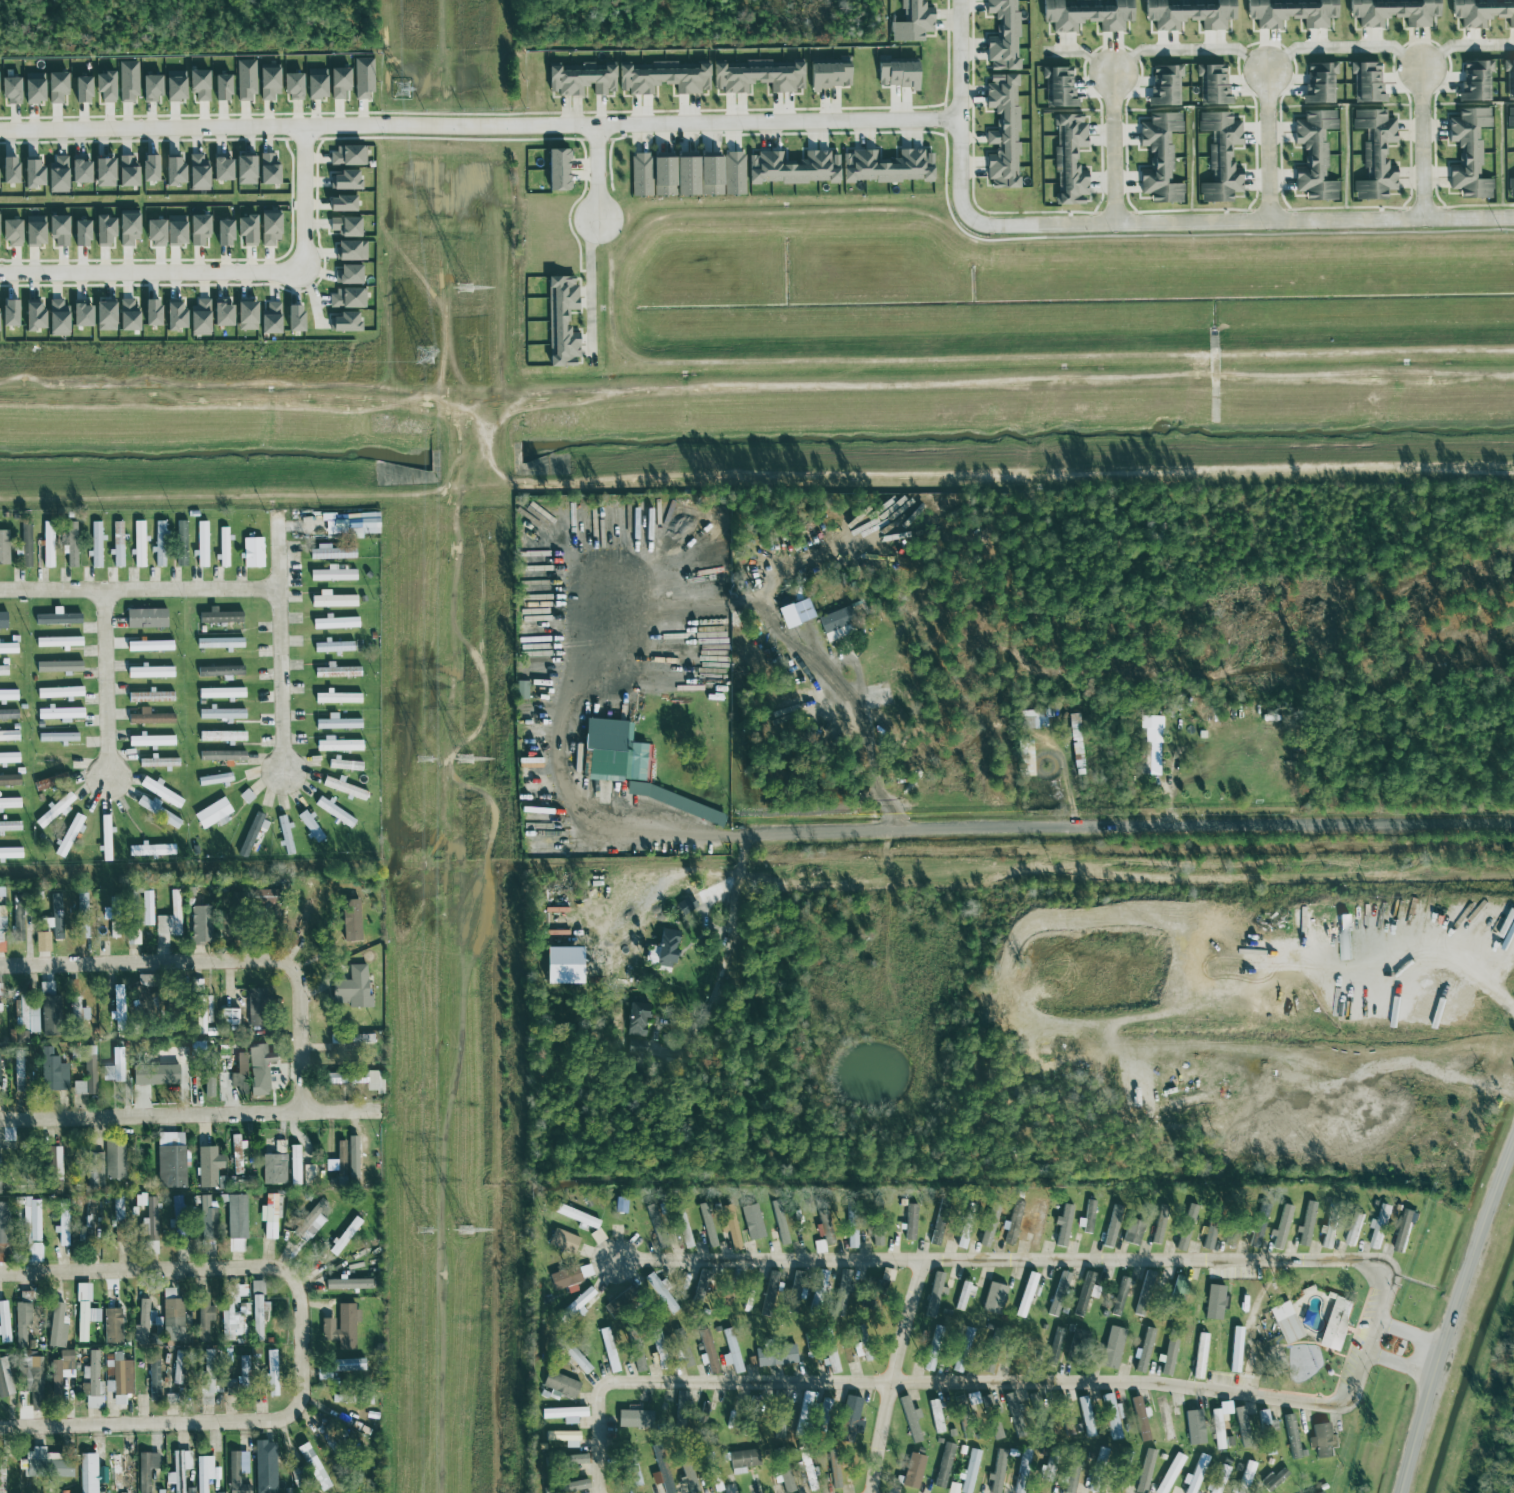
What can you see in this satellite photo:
building: (1393, 12)
building: (1481, 12)
building: (1290, 13)
building: (1188, 14)
building: (1086, 15)
building: (911, 22)
building: (1002, 35)
road: (1463, 44)
road: (1343, 47)
road: (1189, 49)
road: (1083, 52)
building: (896, 72)
building: (830, 75)
building: (757, 77)
building: (362, 78)
building: (663, 78)
building: (244, 79)
building: (1509, 79)
building: (128, 80)
building: (579, 80)
building: (268, 81)
building: (1367, 82)
building: (1475, 82)
building: (338, 83)
building: (1319, 83)
building: (199, 84)
building: (315, 84)
building: (1213, 84)
building: (103, 86)
building: (174, 86)
building: (291, 86)
building: (1164, 86)
building: (56, 87)
building: (220, 87)
building: (1058, 87)
building: (32, 88)
building: (150, 88)
building: (9, 90)
building: (80, 90)
road: (958, 112)
building: (1510, 118)
road: (478, 121)
building: (1003, 133)
road: (1423, 143)
road: (1269, 145)
road: (1112, 147)
building: (1469, 154)
building: (1374, 155)
building: (347, 156)
building: (1314, 156)
building: (1220, 157)
building: (1159, 158)
building: (1069, 160)
building: (886, 167)
building: (148, 169)
building: (792, 169)
building: (220, 170)
building: (244, 170)
building: (266, 170)
building: (557, 170)
building: (7, 171)
road: (600, 171)
building: (78, 172)
building: (126, 172)
building: (103, 173)
building: (172, 173)
building: (197, 173)
building: (30, 174)
building: (733, 174)
building: (56, 175)
building: (640, 175)
building: (674, 177)
building: (709, 177)
building: (345, 181)
building: (1510, 188)
road: (305, 193)
building: (340, 204)
road: (1243, 218)
building: (344, 227)
building: (127, 229)
building: (197, 229)
building: (269, 229)
building: (102, 230)
building: (174, 230)
building: (33, 231)
building: (58, 231)
building: (246, 231)
building: (222, 232)
building: (9, 233)
building: (79, 233)
building: (153, 233)
building: (350, 251)
road: (1472, 261)
road: (148, 269)
building: (348, 275)
road: (590, 287)
power tower: (469, 289)
building: (346, 299)
building: (150, 313)
building: (221, 313)
building: (7, 314)
building: (80, 315)
building: (126, 315)
building: (245, 316)
building: (103, 317)
building: (173, 317)
building: (32, 318)
building: (199, 318)
building: (57, 319)
building: (269, 319)
building: (293, 319)
building: (561, 321)
building: (344, 323)
power tower: (425, 354)
river: (757, 434)
building: (349, 524)
building: (159, 543)
building: (180, 543)
building: (201, 543)
building: (47, 544)
building: (71, 544)
building: (138, 544)
building: (24, 545)
building: (95, 545)
building: (117, 545)
building: (223, 546)
building: (3, 547)
building: (252, 552)
building: (331, 553)
building: (332, 574)
road: (138, 591)
building: (332, 600)
building: (794, 612)
building: (218, 616)
building: (145, 618)
building: (56, 619)
building: (836, 619)
building: (2, 620)
building: (335, 622)
building: (57, 642)
building: (218, 643)
road: (278, 645)
building: (149, 646)
building: (333, 646)
building: (8, 648)
building: (58, 666)
building: (3, 671)
building: (219, 671)
building: (337, 671)
building: (149, 672)
road: (106, 685)
building: (521, 689)
building: (59, 692)
building: (220, 693)
building: (8, 695)
building: (150, 696)
building: (337, 697)
road: (867, 703)
building: (60, 713)
building: (221, 713)
building: (8, 714)
building: (149, 717)
building: (1033, 718)
building: (337, 723)
building: (1150, 728)
building: (9, 736)
building: (221, 736)
building: (57, 737)
building: (150, 740)
building: (1074, 743)
building: (337, 745)
building: (611, 751)
building: (221, 756)
building: (9, 757)
building: (1024, 757)
building: (1149, 758)
power tower: (424, 759)
power tower: (466, 759)
building: (53, 761)
building: (158, 762)
building: (647, 763)
building: (344, 764)
building: (214, 779)
building: (8, 780)
building: (44, 783)
building: (344, 788)
building: (160, 792)
building: (245, 796)
building: (10, 803)
building: (53, 810)
building: (156, 810)
building: (333, 812)
building: (211, 814)
road: (956, 824)
building: (10, 826)
building: (309, 826)
building: (251, 833)
building: (68, 835)
building: (285, 835)
building: (105, 838)
building: (151, 849)
building: (10, 853)
building: (260, 898)
building: (685, 905)
building: (82, 915)
building: (169, 917)
building: (17, 918)
building: (139, 918)
building: (302, 920)
building: (45, 922)
building: (200, 924)
building: (347, 925)
building: (1344, 937)
road: (1479, 938)
building: (42, 942)
road: (726, 946)
building: (665, 948)
road: (1428, 948)
road: (220, 960)
building: (561, 965)
building: (140, 983)
building: (351, 988)
building: (45, 989)
building: (116, 1003)
building: (254, 1007)
building: (0, 1008)
building: (77, 1012)
building: (202, 1013)
building: (50, 1016)
building: (228, 1017)
building: (24, 1019)
building: (635, 1019)
building: (350, 1039)
building: (635, 1047)
building: (114, 1067)
building: (259, 1069)
building: (52, 1071)
building: (86, 1074)
building: (154, 1074)
building: (239, 1074)
building: (351, 1079)
road: (191, 1112)
building: (279, 1146)
building: (237, 1154)
building: (351, 1158)
building: (113, 1159)
building: (170, 1160)
building: (337, 1161)
building: (294, 1165)
building: (207, 1166)
building: (52, 1169)
building: (94, 1169)
building: (273, 1169)
building: (308, 1175)
building: (138, 1199)
building: (619, 1205)
building: (117, 1209)
building: (272, 1214)
building: (653, 1215)
building: (236, 1216)
building: (576, 1216)
building: (1088, 1216)
building: (206, 1218)
building: (149, 1221)
building: (726, 1222)
building: (780, 1222)
building: (910, 1222)
building: (1, 1223)
building: (309, 1223)
building: (1039, 1223)
building: (706, 1224)
building: (1159, 1225)
building: (1258, 1225)
building: (1306, 1225)
building: (755, 1226)
building: (989, 1226)
building: (1008, 1226)
building: (1063, 1226)
building: (1111, 1226)
building: (61, 1227)
building: (681, 1227)
building: (824, 1227)
building: (1281, 1228)
power tower: (424, 1229)
building: (1354, 1229)
building: (30, 1230)
building: (852, 1230)
building: (937, 1230)
building: (1403, 1230)
power tower: (467, 1232)
building: (1132, 1232)
building: (964, 1233)
building: (1377, 1233)
building: (1326, 1235)
building: (877, 1237)
building: (1208, 1238)
building: (1228, 1240)
building: (562, 1241)
building: (235, 1246)
building: (819, 1246)
road: (182, 1268)
building: (568, 1277)
building: (883, 1279)
building: (771, 1282)
building: (347, 1284)
building: (701, 1285)
building: (1178, 1286)
building: (795, 1287)
building: (818, 1288)
building: (1148, 1290)
building: (841, 1291)
building: (660, 1293)
building: (1057, 1293)
building: (1085, 1293)
building: (963, 1295)
building: (1025, 1295)
building: (933, 1296)
building: (1119, 1296)
building: (727, 1297)
building: (993, 1298)
building: (580, 1300)
building: (1213, 1302)
building: (233, 1310)
building: (257, 1310)
building: (83, 1312)
road: (1453, 1316)
building: (21, 1319)
building: (203, 1319)
building: (144, 1321)
building: (3, 1323)
building: (1286, 1323)
building: (1335, 1324)
building: (111, 1325)
building: (56, 1326)
building: (340, 1327)
road: (1413, 1332)
building: (1078, 1337)
building: (966, 1338)
building: (1021, 1339)
building: (859, 1340)
building: (605, 1342)
building: (1055, 1346)
building: (1112, 1347)
building: (681, 1348)
building: (931, 1349)
building: (707, 1350)
building: (1143, 1350)
building: (830, 1351)
building: (731, 1352)
building: (775, 1355)
building: (1168, 1356)
building: (1199, 1356)
building: (576, 1359)
building: (346, 1365)
building: (956, 1366)
building: (243, 1367)
building: (987, 1367)
road: (1401, 1368)
building: (61, 1369)
building: (270, 1374)
road: (1360, 1374)
building: (153, 1376)
building: (4, 1377)
building: (117, 1377)
building: (207, 1377)
road: (894, 1378)
building: (31, 1380)
building: (91, 1383)
building: (560, 1386)
building: (806, 1399)
building: (825, 1404)
building: (960, 1408)
building: (1012, 1408)
building: (702, 1413)
building: (564, 1414)
building: (935, 1416)
building: (1086, 1416)
building: (1112, 1416)
building: (991, 1417)
building: (1140, 1418)
building: (1164, 1418)
building: (909, 1419)
building: (1192, 1419)
building: (847, 1420)
building: (1243, 1420)
building: (1266, 1422)
road: (182, 1424)
building: (778, 1429)
building: (1218, 1429)
building: (1291, 1436)
building: (563, 1438)
building: (1321, 1440)
building: (1102, 1456)
building: (742, 1461)
building: (46, 1465)
building: (660, 1465)
building: (943, 1465)
building: (263, 1467)
building: (312, 1467)
building: (1021, 1468)
building: (145, 1470)
building: (178, 1470)
building: (997, 1470)
building: (237, 1471)
building: (912, 1471)
building: (970, 1471)
building: (1145, 1471)
building: (203, 1472)
building: (87, 1473)
building: (1169, 1473)
building: (1247, 1473)
building: (633, 1474)
building: (808, 1474)
building: (2, 1475)
building: (835, 1475)
building: (1071, 1475)
building: (1195, 1475)
building: (102, 1477)
building: (1220, 1477)
building: (688, 1478)
building: (785, 1478)
building: (1273, 1480)
building: (575, 1486)

